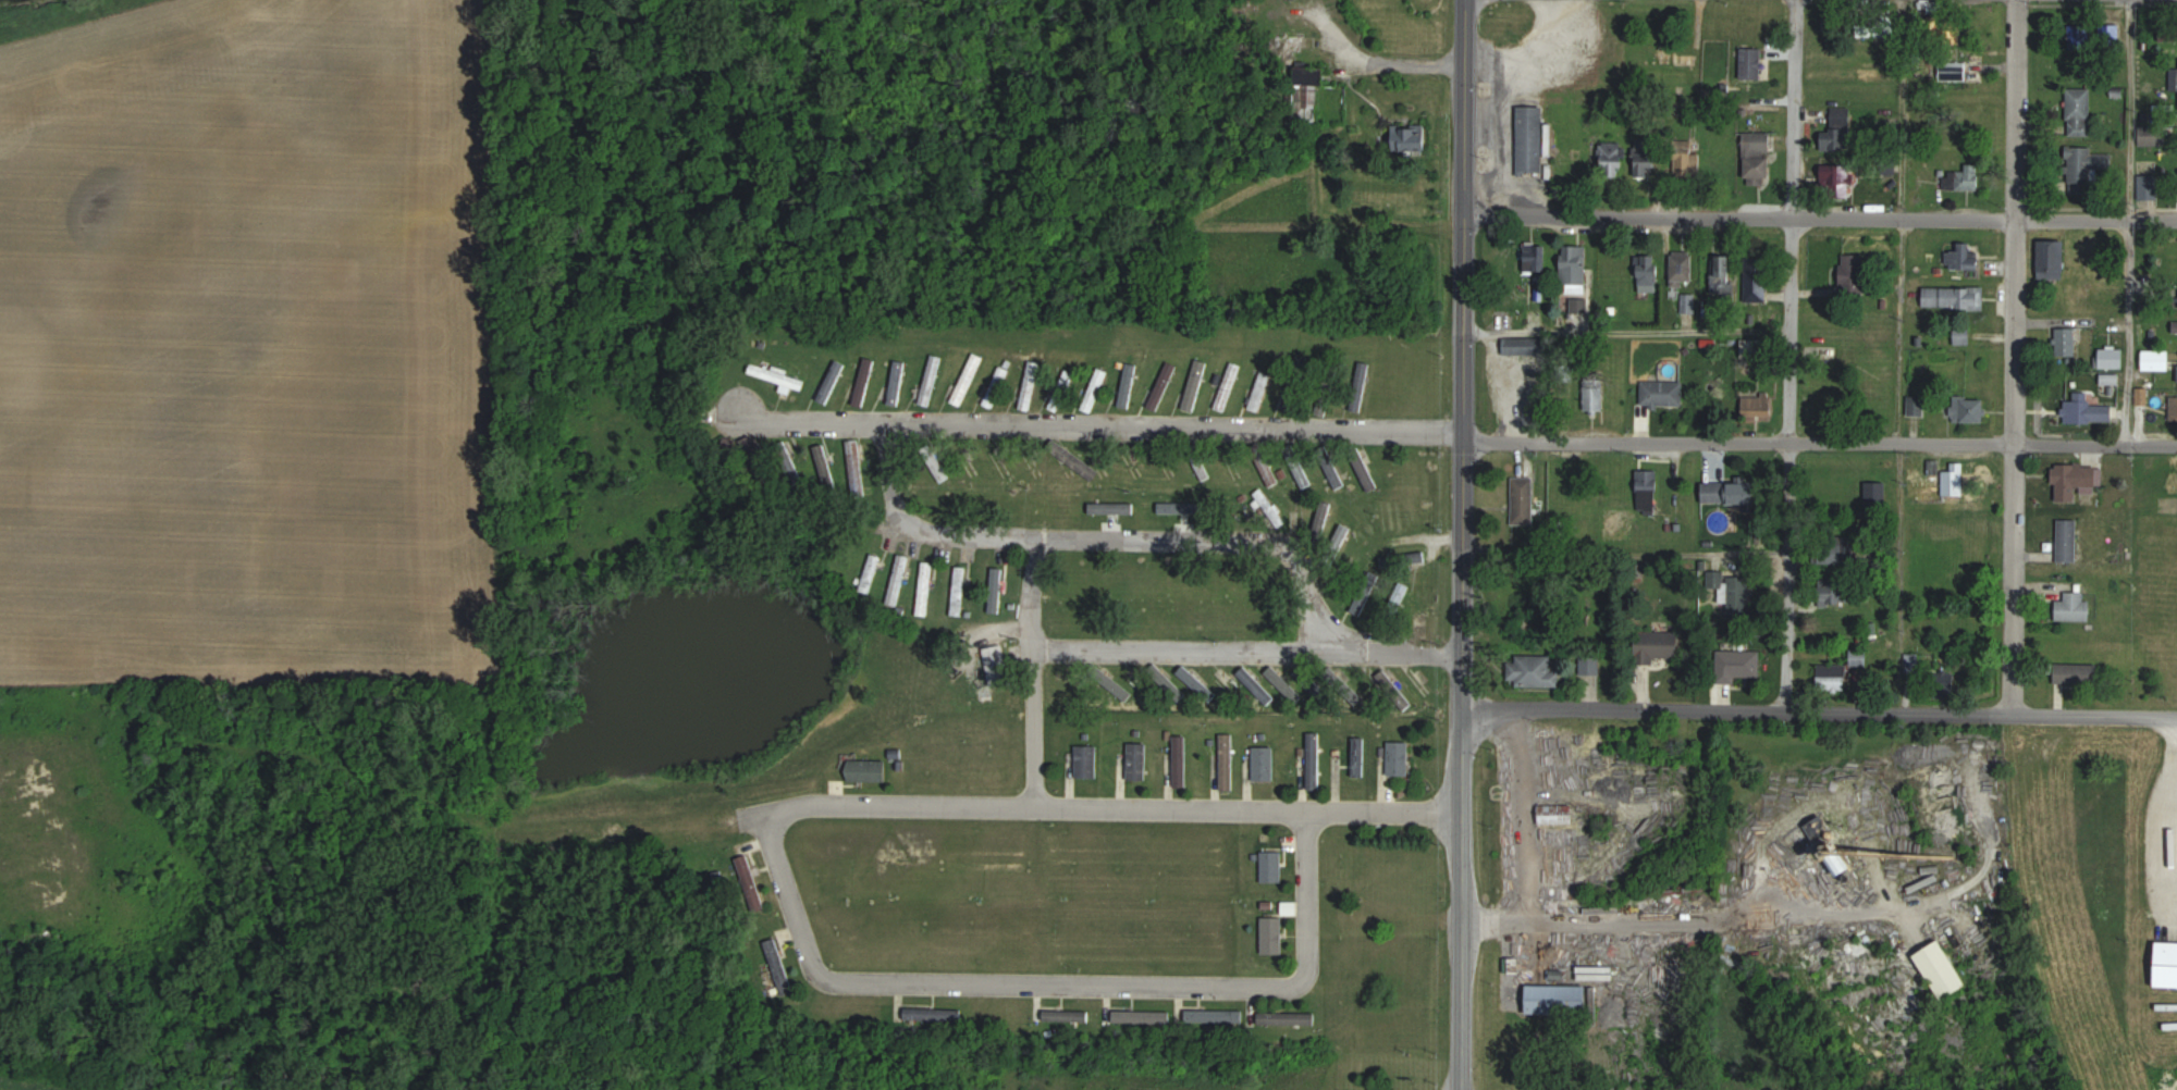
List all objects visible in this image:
building: (1670, 59)
building: (1752, 63)
building: (1955, 71)
building: (1308, 90)
building: (2079, 112)
building: (1841, 129)
building: (2155, 132)
building: (1418, 137)
building: (1532, 137)
building: (1758, 146)
building: (1613, 157)
building: (2088, 168)
building: (1838, 174)
building: (1963, 177)
road: (1741, 214)
road: (2096, 219)
road: (2125, 221)
building: (1535, 256)
building: (1963, 256)
building: (2053, 263)
building: (1575, 269)
building: (1683, 269)
building: (1650, 273)
building: (1853, 274)
building: (1756, 278)
road: (1846, 288)
building: (1955, 297)
building: (1579, 305)
road: (1628, 334)
building: (2069, 342)
building: (1523, 345)
road: (1792, 355)
road: (2015, 355)
road: (1901, 356)
building: (2113, 358)
building: (2157, 359)
building: (779, 376)
building: (834, 379)
building: (969, 379)
building: (931, 380)
building: (863, 381)
building: (1195, 384)
building: (1030, 385)
building: (1164, 385)
building: (1229, 385)
building: (1360, 385)
building: (997, 386)
building: (1062, 389)
building: (1095, 389)
building: (1260, 391)
building: (1294, 392)
building: (1596, 392)
building: (1663, 393)
building: (1918, 405)
building: (1758, 406)
building: (2174, 406)
building: (1970, 409)
building: (2092, 410)
road: (1082, 425)
road: (1739, 443)
road: (2095, 443)
building: (969, 460)
building: (936, 463)
building: (1001, 463)
building: (858, 467)
building: (1369, 467)
building: (1301, 468)
building: (1269, 470)
building: (2081, 475)
building: (1956, 483)
building: (1578, 484)
building: (1735, 492)
building: (1648, 493)
building: (1524, 498)
building: (1341, 532)
road: (1100, 536)
building: (2069, 540)
road: (1464, 545)
building: (1832, 554)
building: (1356, 558)
road: (1592, 558)
building: (872, 573)
building: (899, 580)
building: (1393, 581)
building: (1718, 585)
building: (926, 587)
building: (960, 591)
building: (996, 592)
building: (1841, 593)
building: (2076, 606)
building: (1661, 645)
road: (1249, 648)
building: (998, 665)
building: (1739, 665)
building: (1535, 669)
road: (1034, 670)
building: (2080, 672)
building: (1276, 676)
building: (1834, 678)
building: (1422, 688)
road: (1820, 710)
building: (1358, 756)
building: (1400, 758)
building: (1139, 760)
building: (1181, 760)
building: (1315, 760)
building: (1087, 761)
building: (1228, 761)
building: (1265, 763)
building: (869, 771)
road: (1102, 807)
building: (1557, 814)
road: (1521, 841)
building: (1843, 864)
building: (1272, 866)
building: (751, 882)
road: (1664, 918)
building: (1274, 934)
building: (2167, 964)
building: (778, 967)
building: (1943, 969)
road: (1063, 984)
building: (1560, 999)
building: (1073, 1016)
building: (1143, 1017)
building: (1289, 1017)
building: (1216, 1019)

